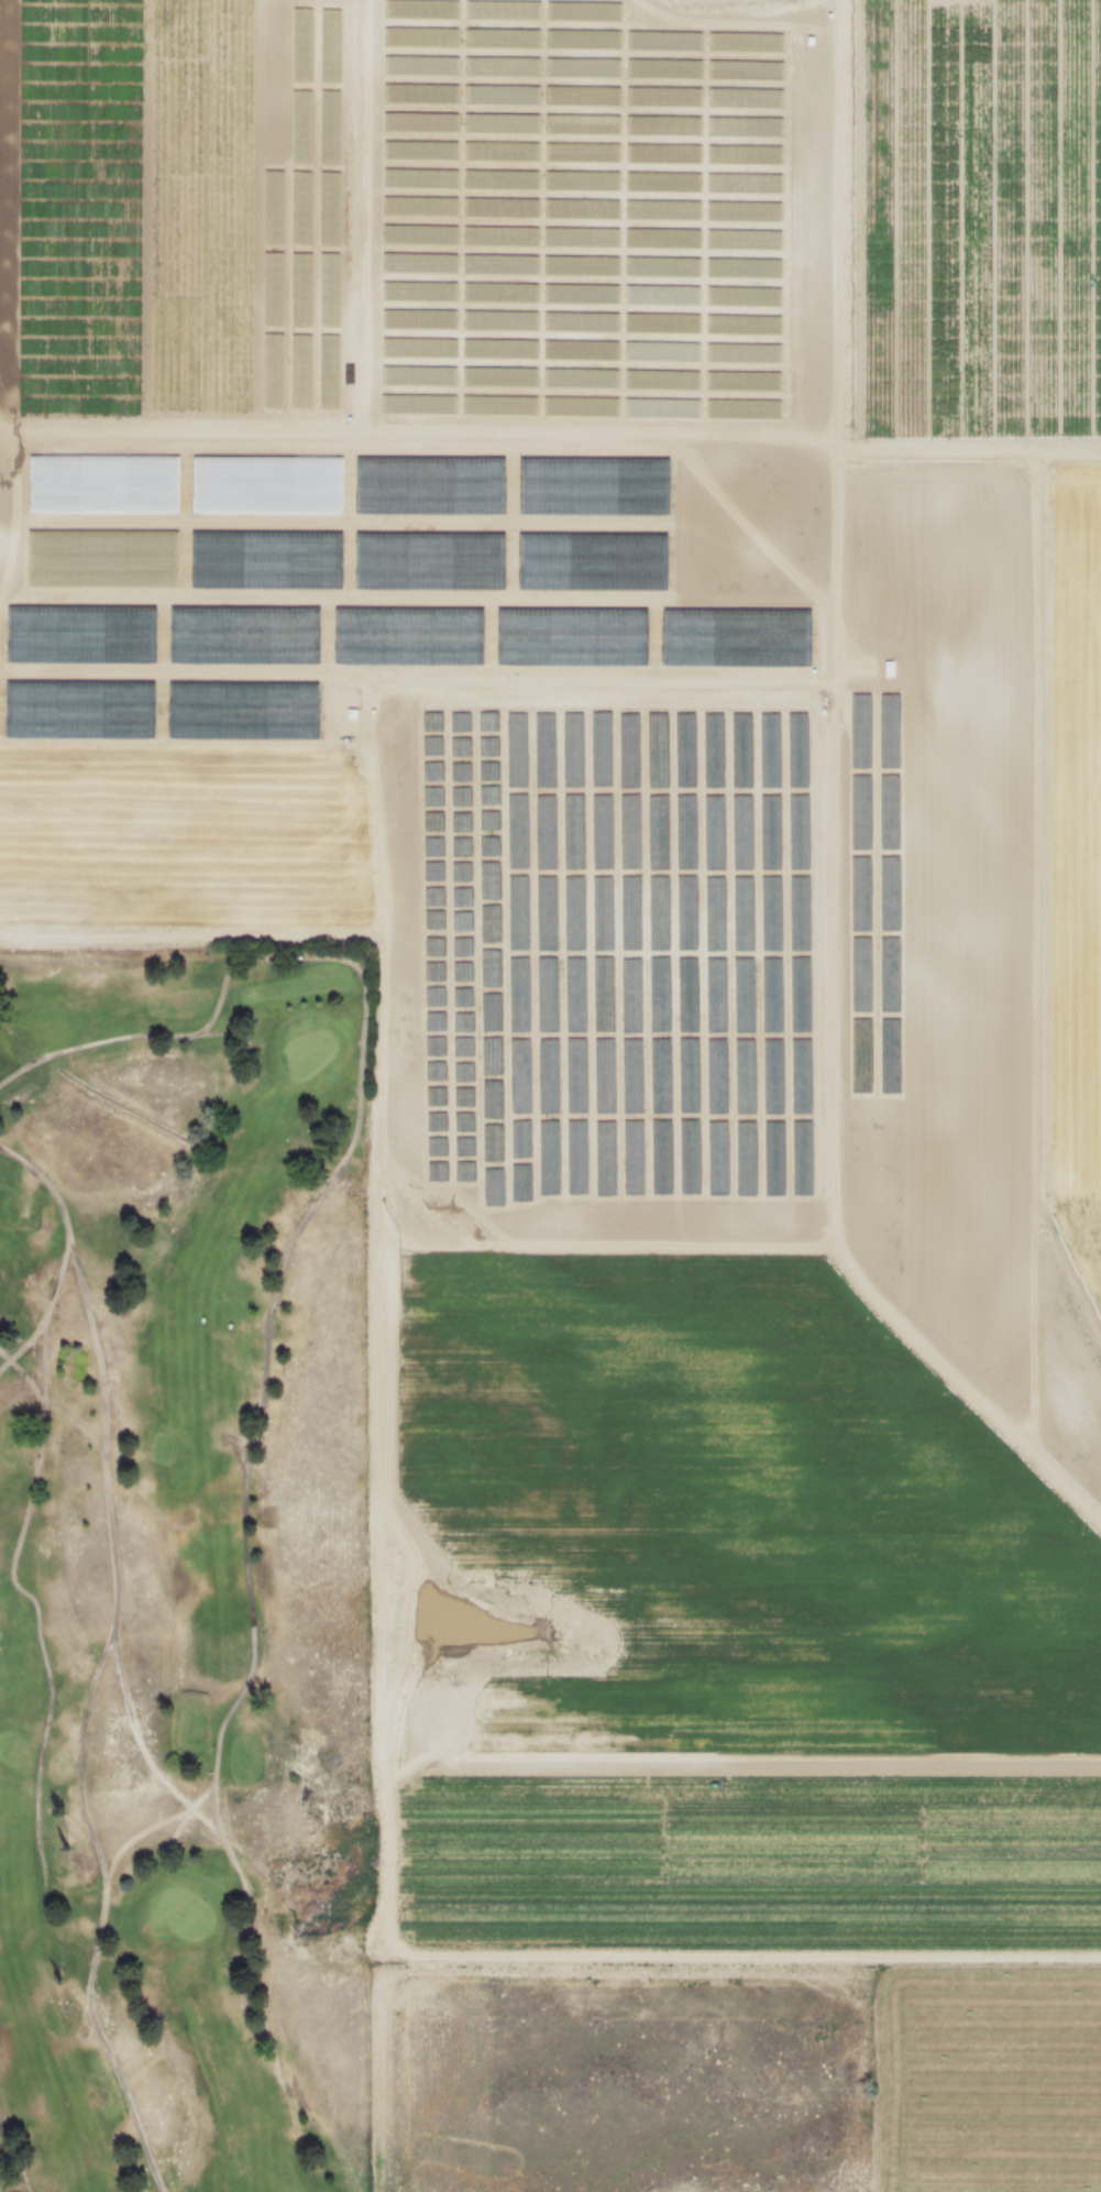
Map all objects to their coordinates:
road: (822, 912)

